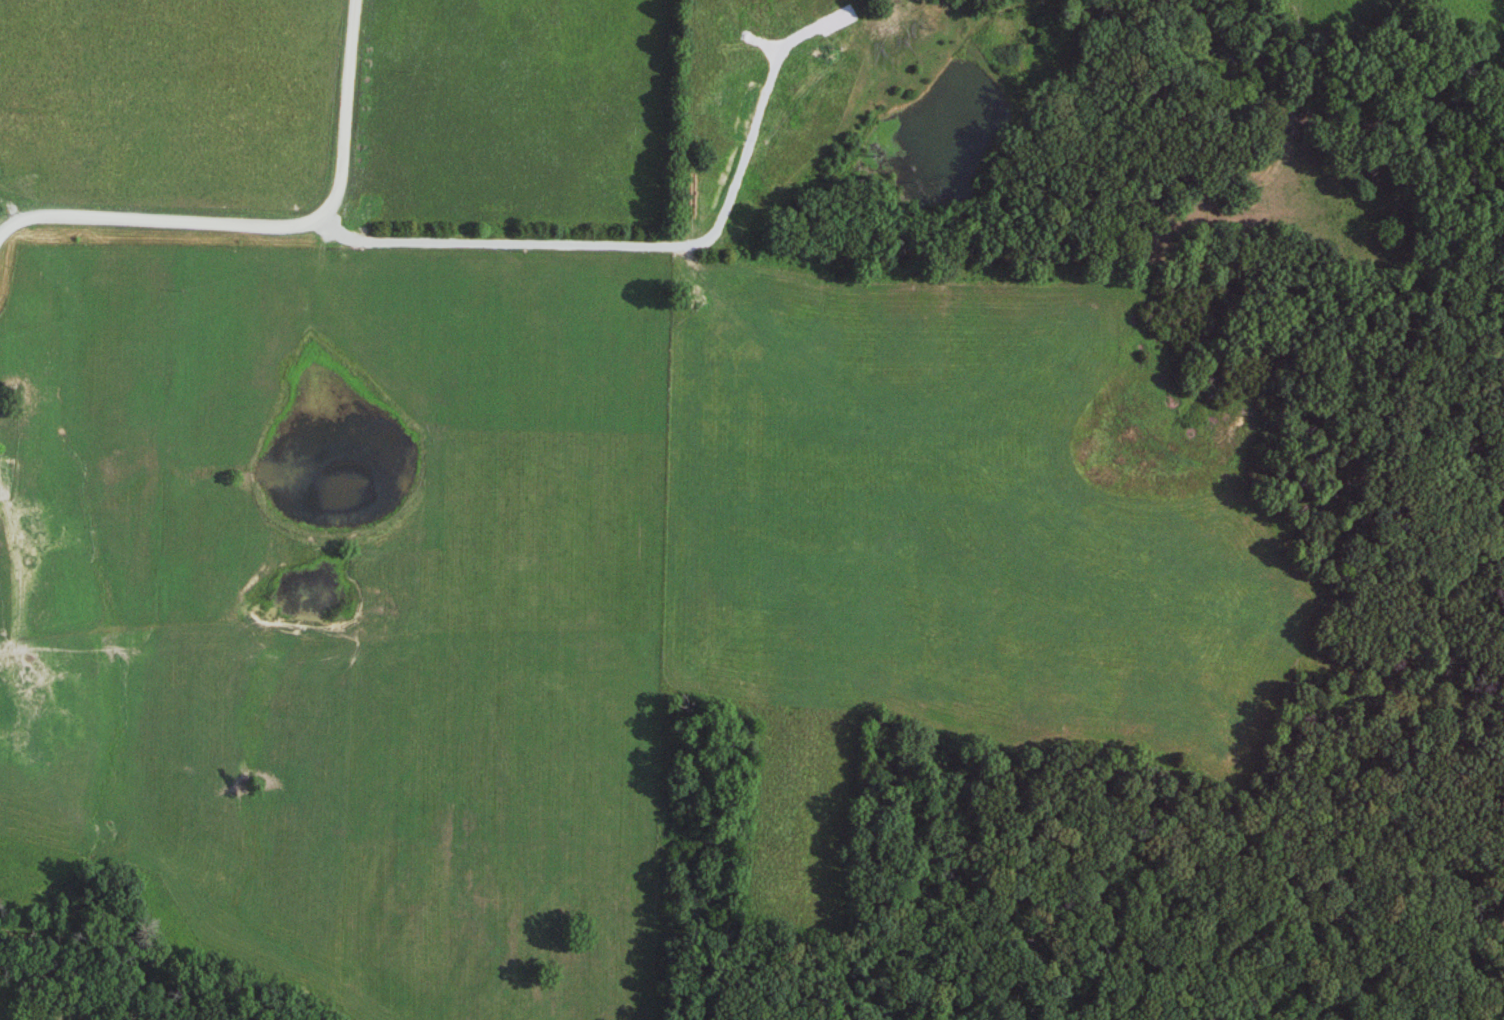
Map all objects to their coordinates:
road: (273, 228)

